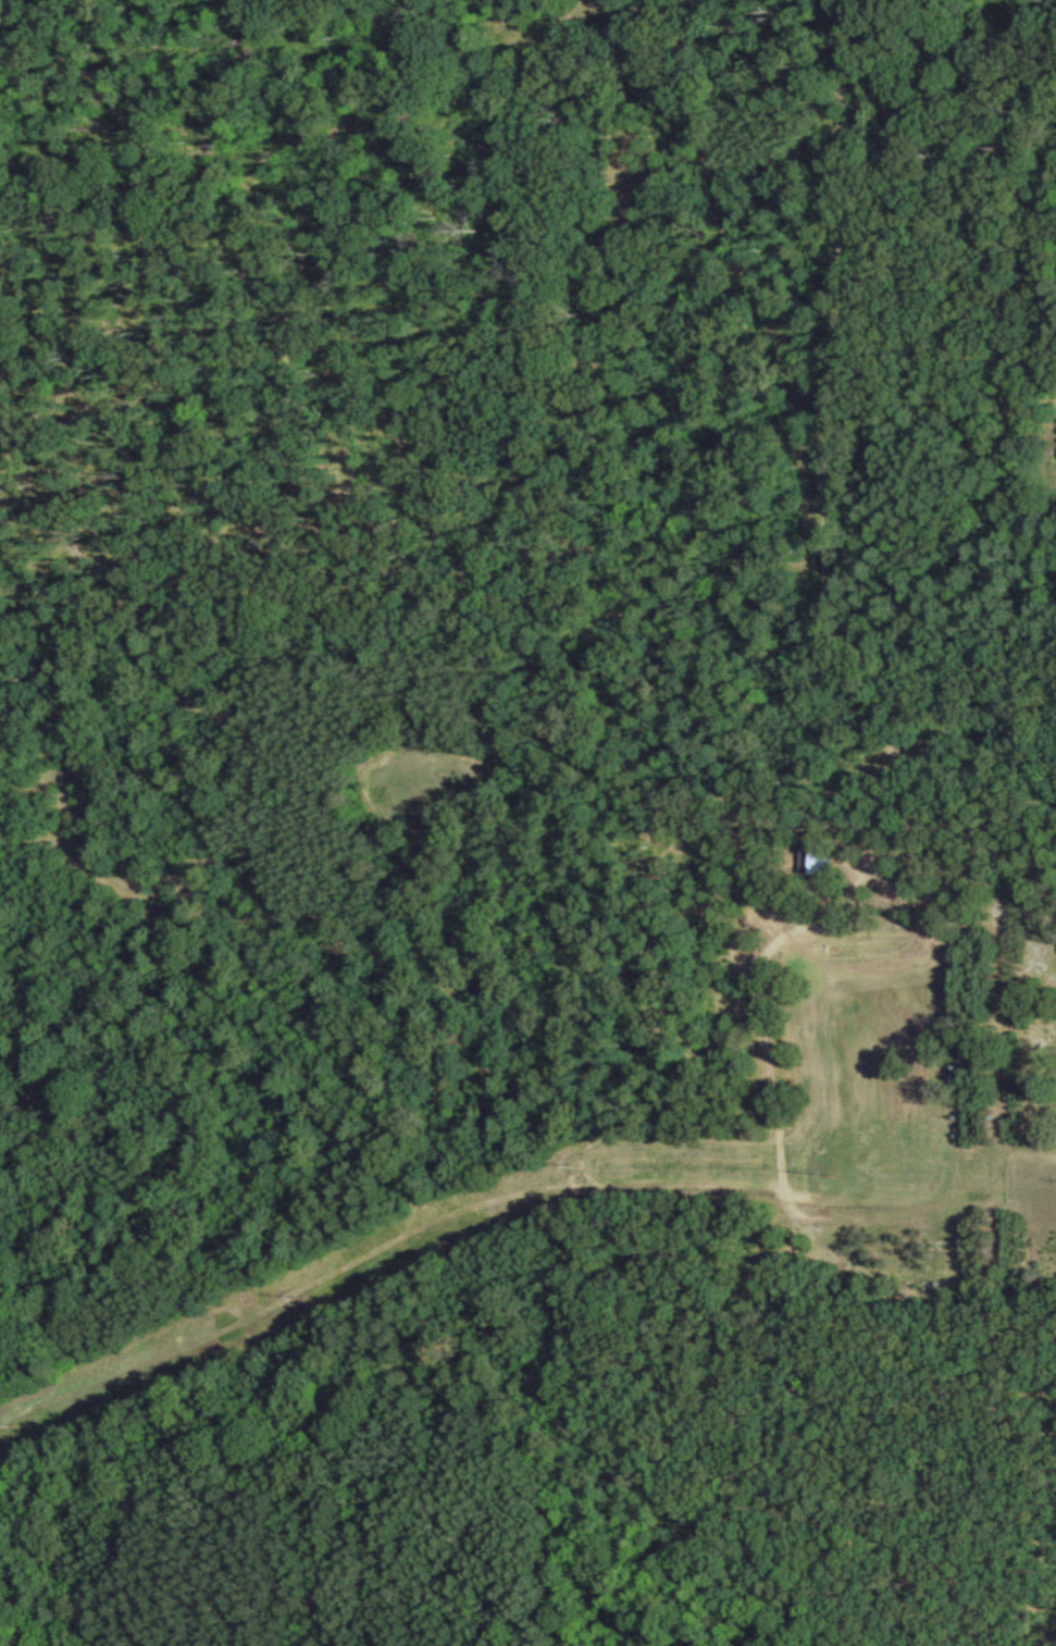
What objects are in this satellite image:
building: (816, 854)

